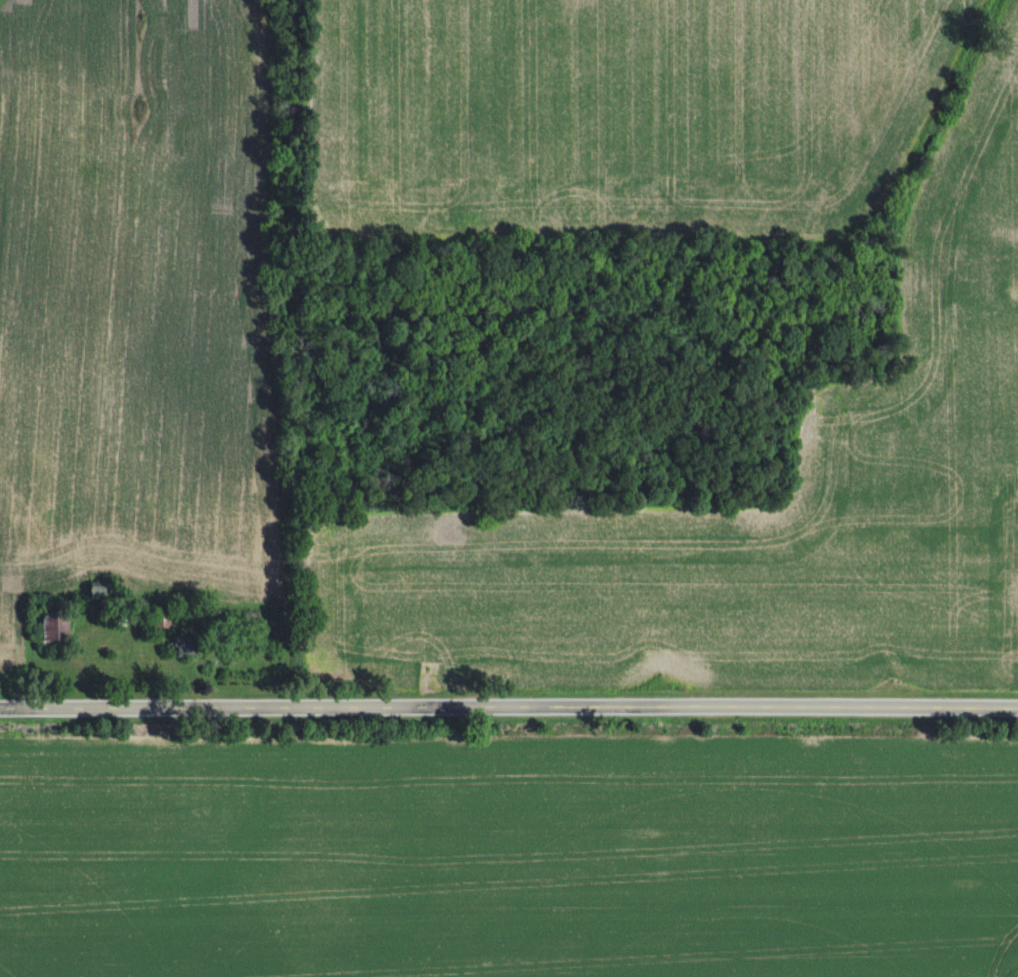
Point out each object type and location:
building: (160, 622)
building: (57, 630)
road: (509, 703)

